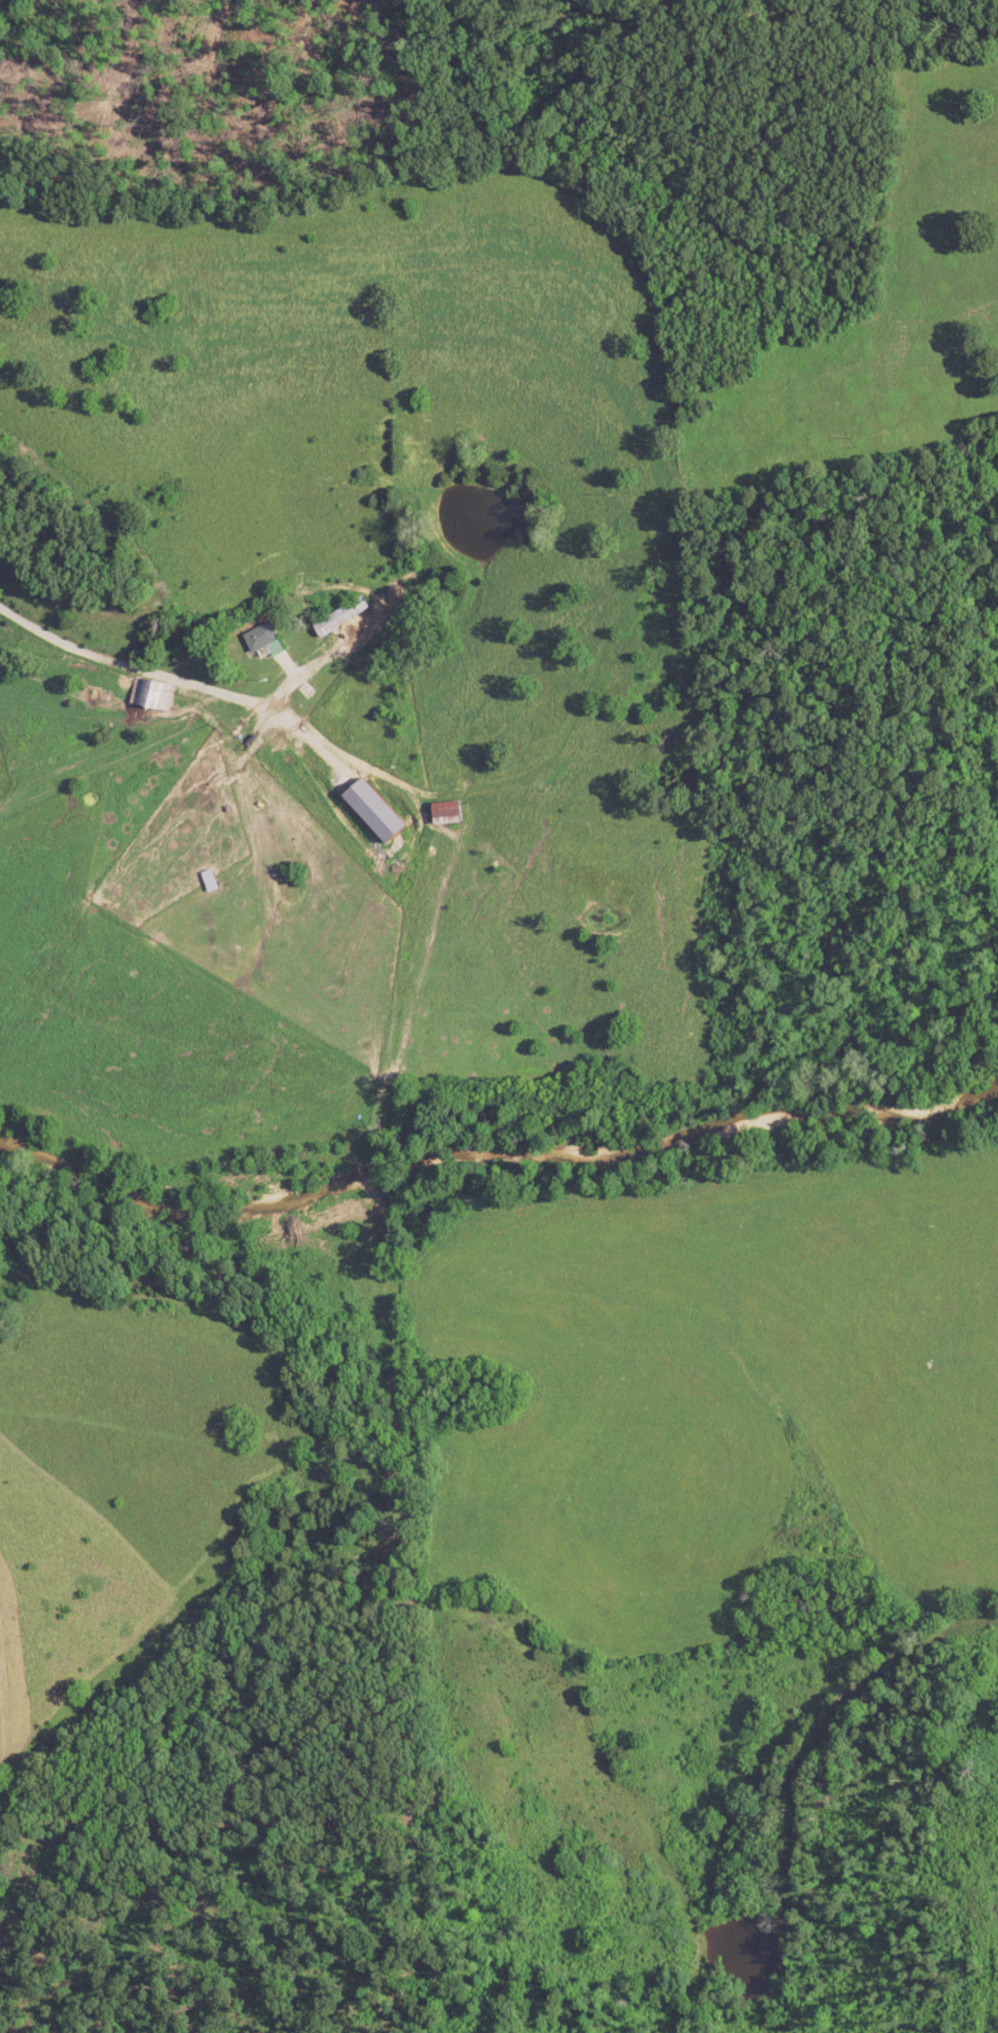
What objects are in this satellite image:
building: (343, 616)
building: (267, 640)
road: (213, 690)
building: (381, 811)
building: (451, 812)

